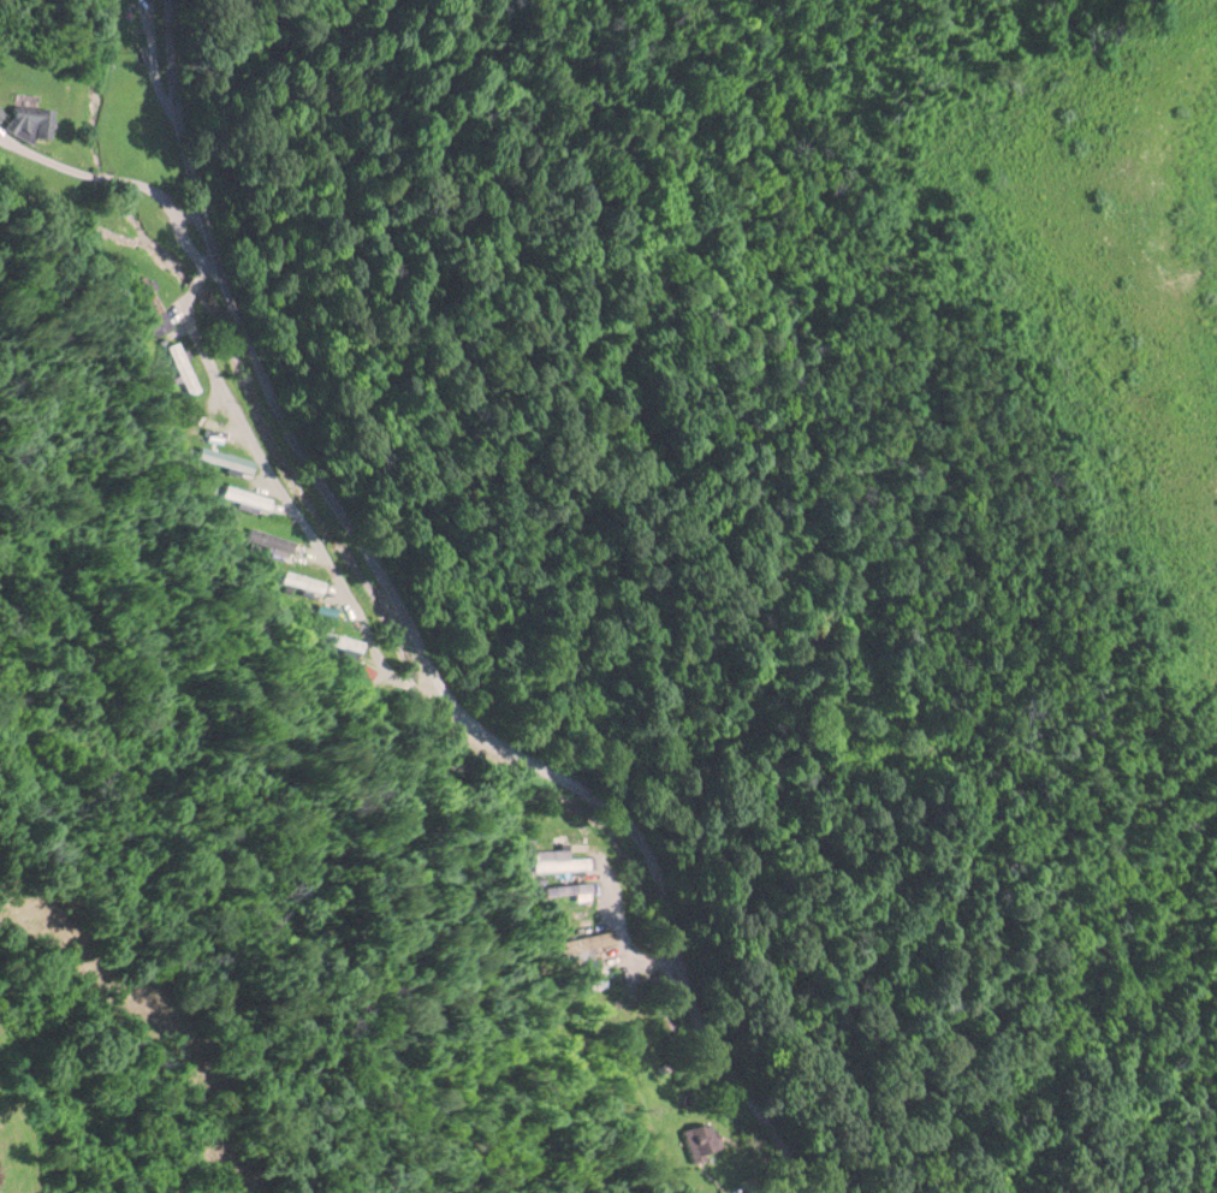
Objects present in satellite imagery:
building: (136, 19)
building: (1, 111)
building: (28, 120)
road: (100, 172)
building: (153, 304)
building: (184, 367)
building: (214, 422)
building: (227, 458)
building: (247, 495)
road: (289, 498)
building: (304, 580)
building: (344, 640)
road: (417, 641)
building: (559, 861)
building: (576, 886)
building: (587, 944)
building: (633, 1047)
building: (700, 1138)
building: (729, 1192)

